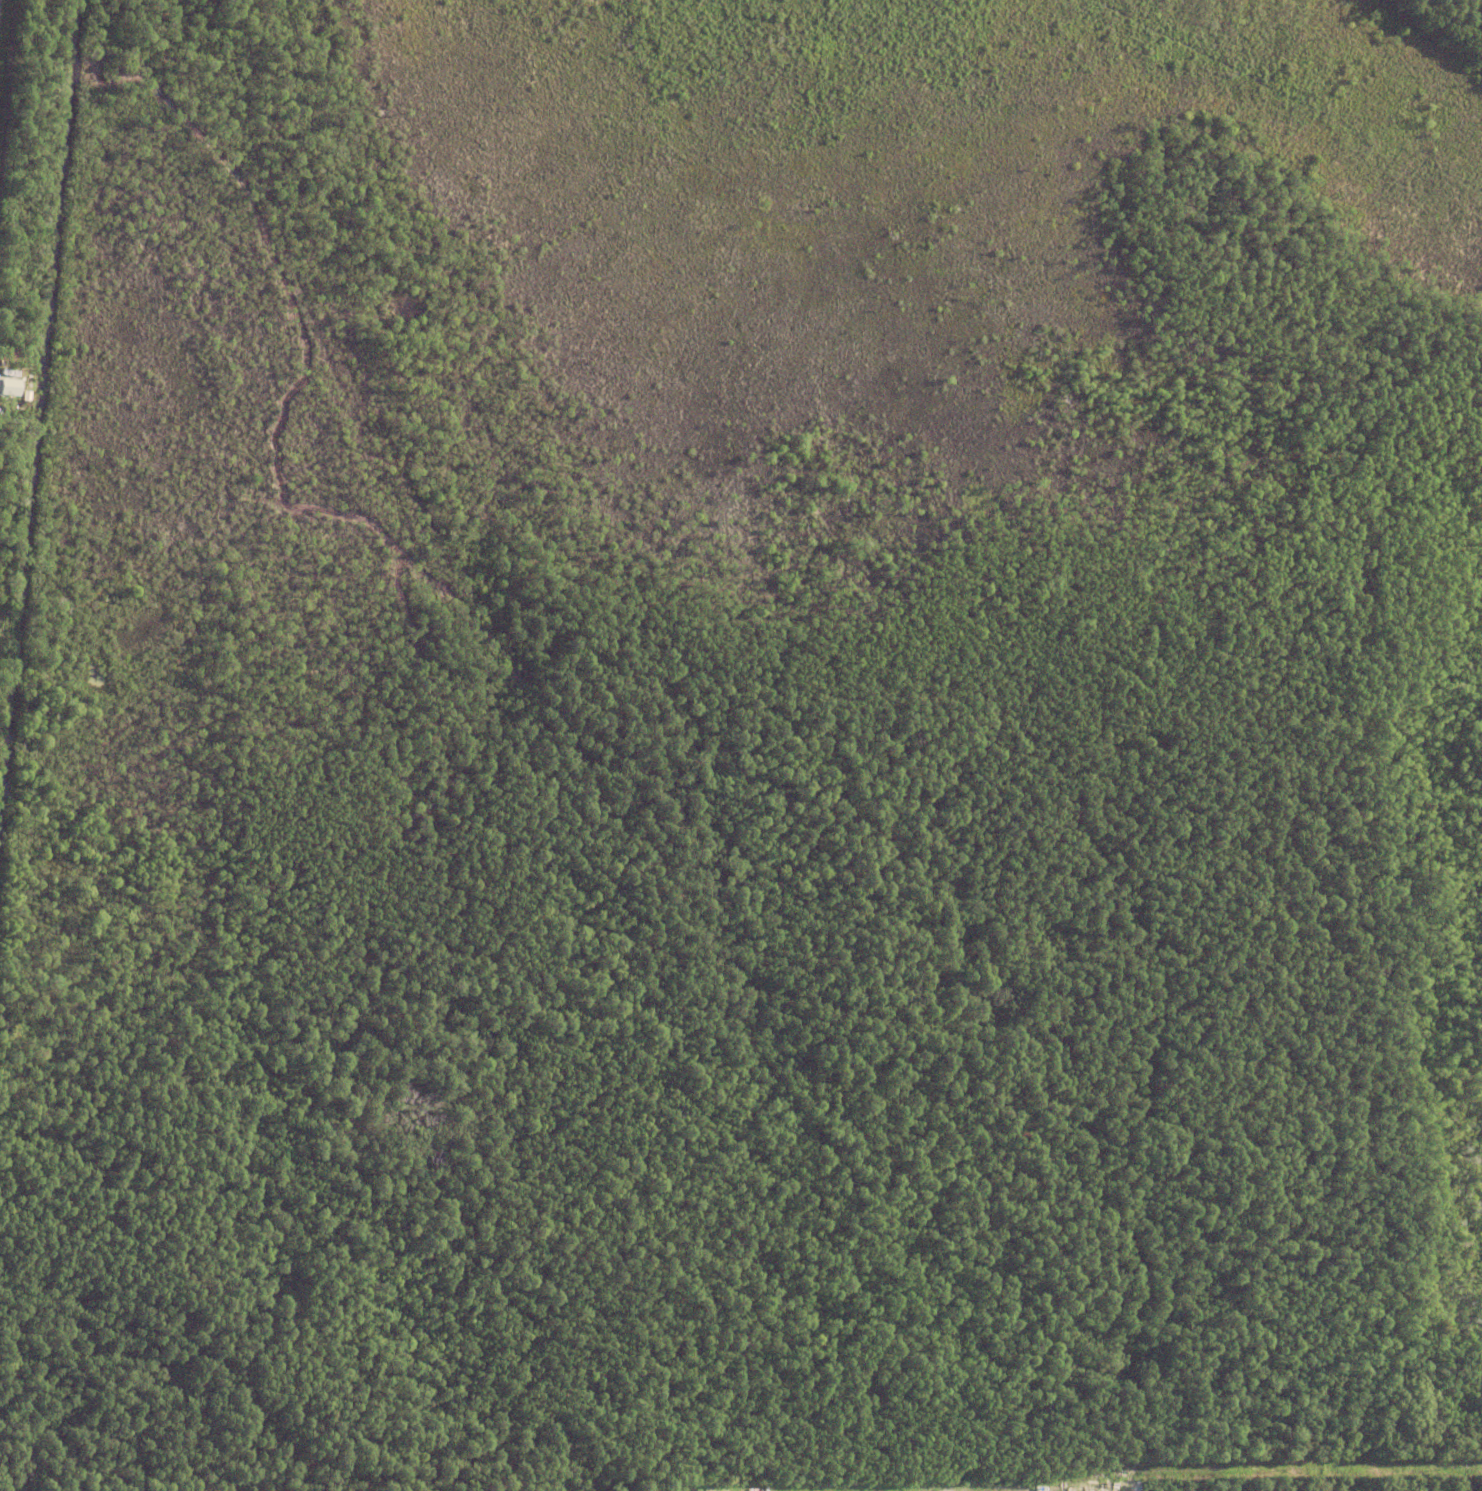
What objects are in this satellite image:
building: (12, 387)

